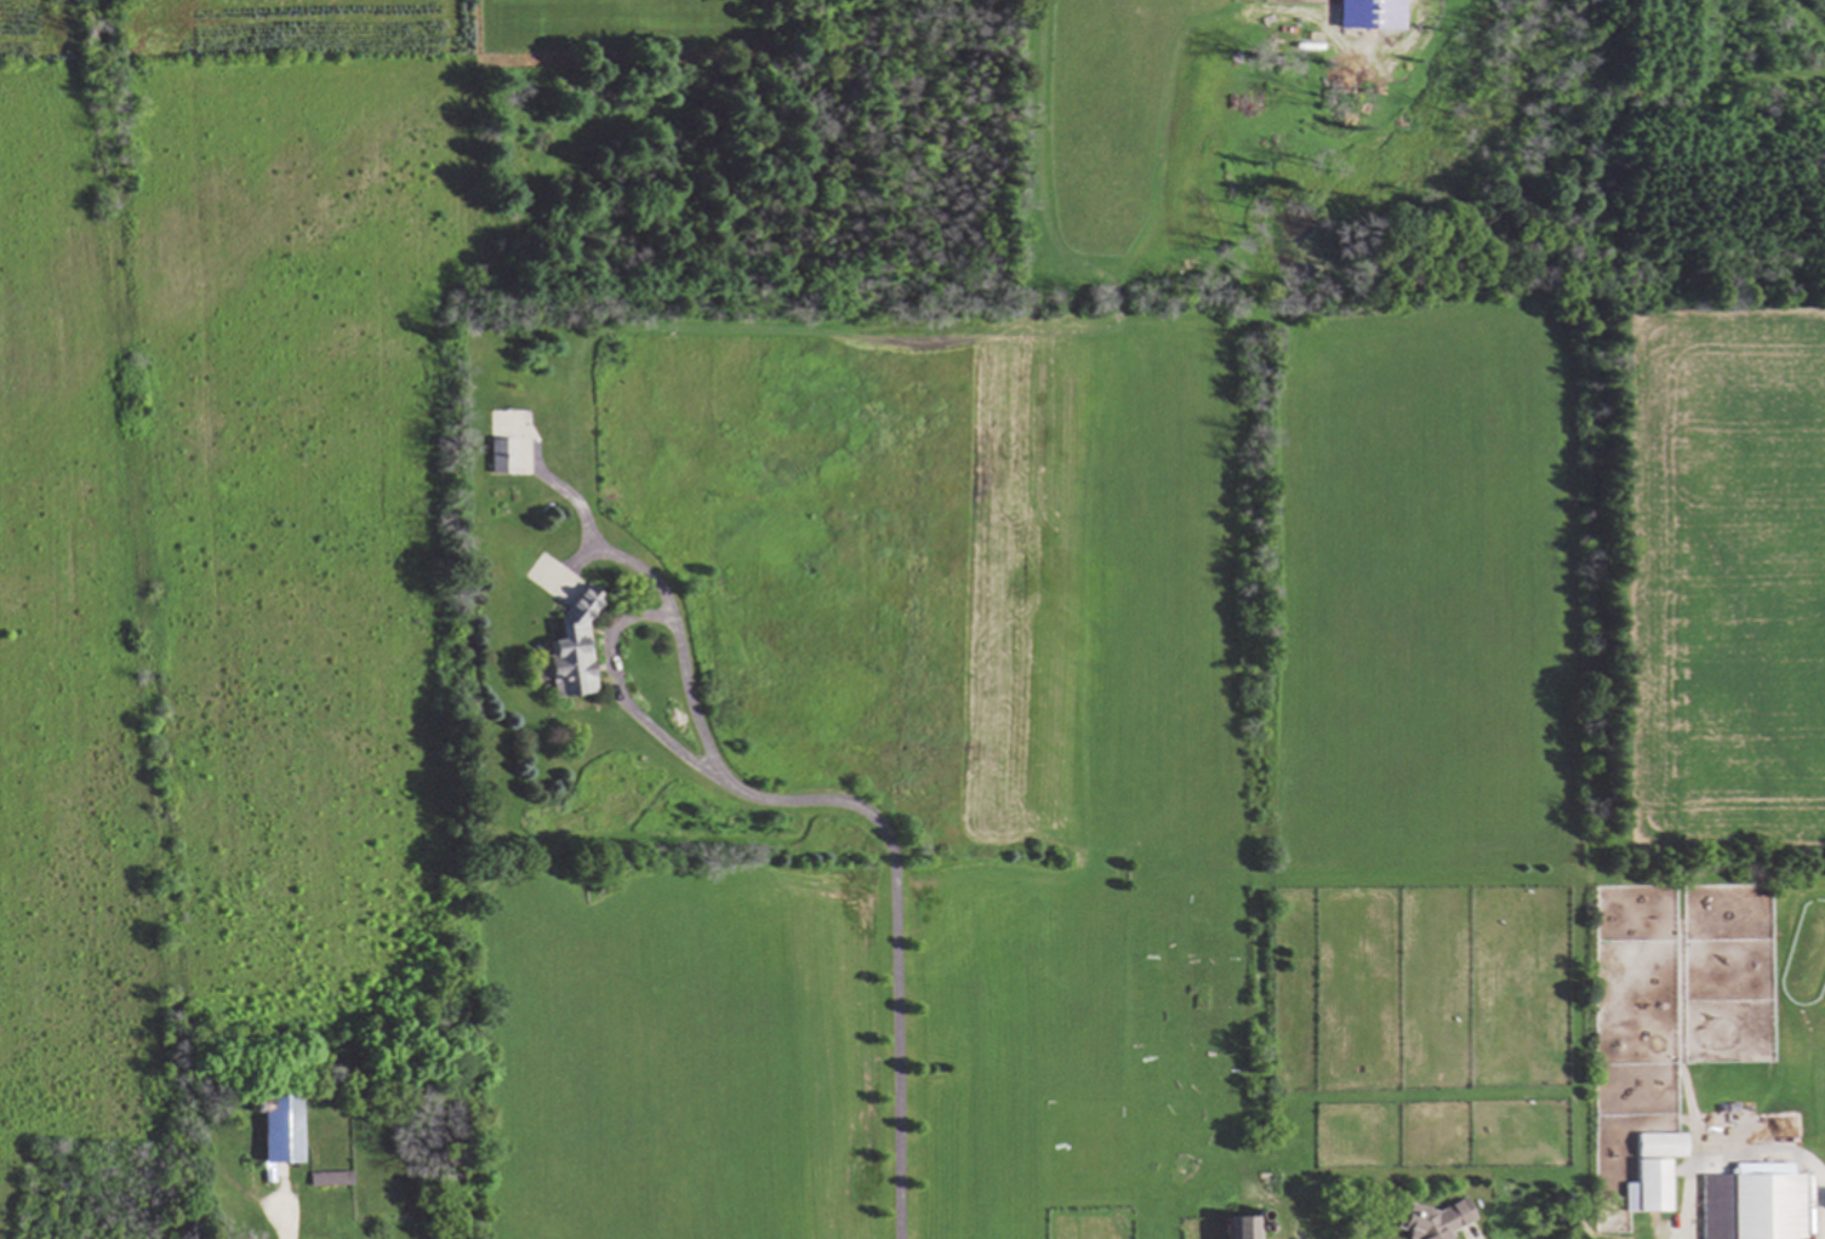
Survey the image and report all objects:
building: (500, 458)
building: (566, 628)
road: (618, 695)
road: (829, 801)
building: (278, 1130)
road: (1750, 1152)
building: (1653, 1172)
building: (1751, 1207)
building: (1441, 1220)
road: (278, 1224)
building: (1239, 1228)

